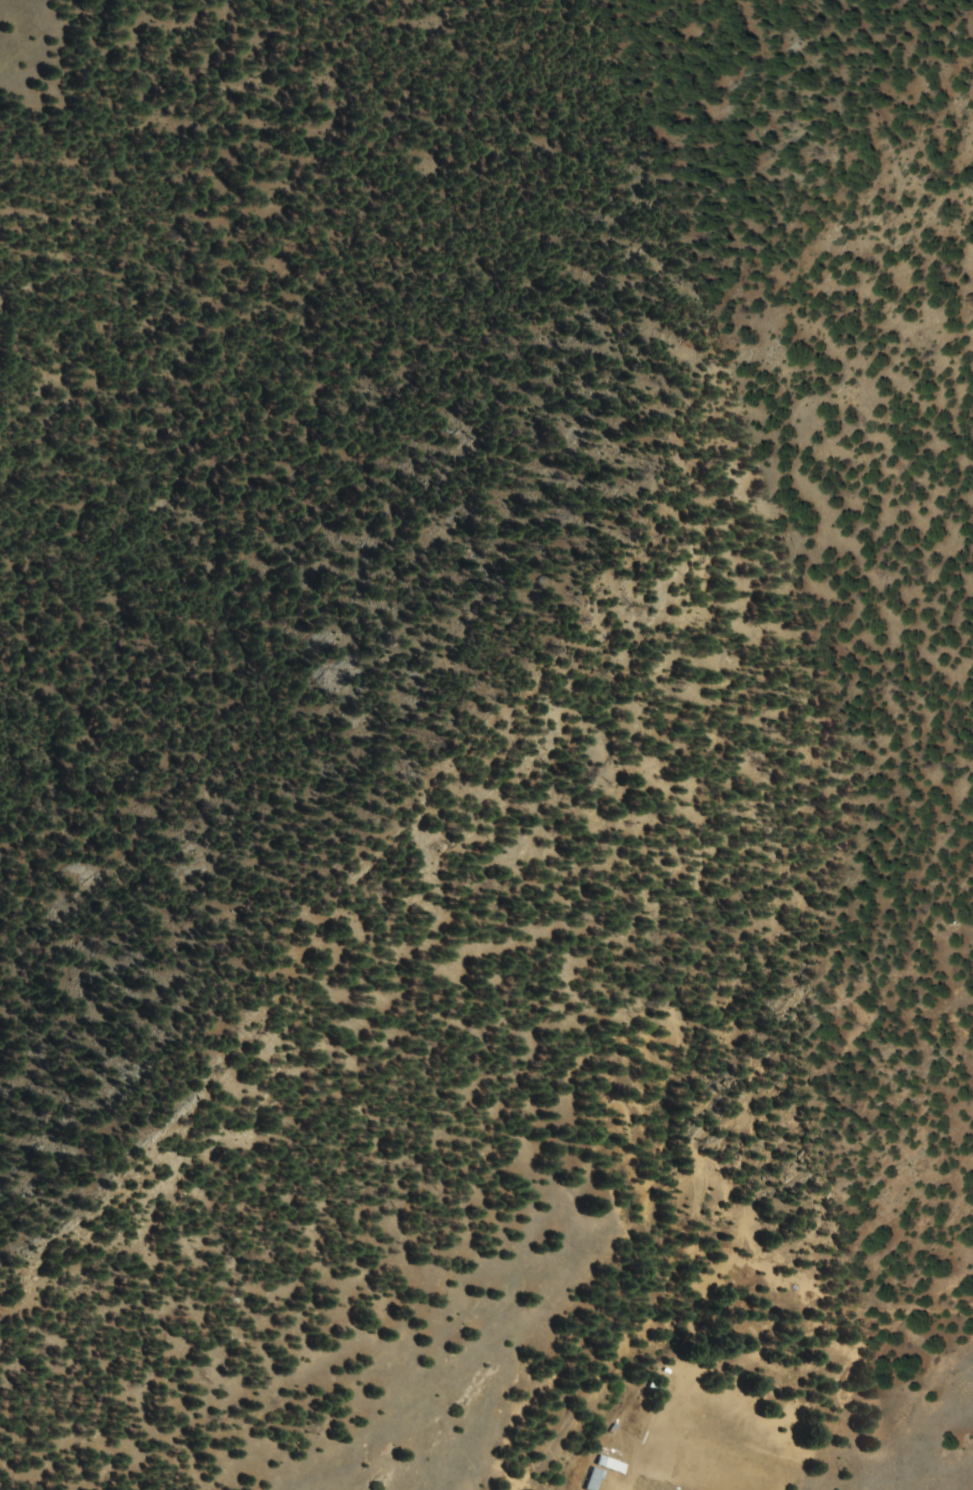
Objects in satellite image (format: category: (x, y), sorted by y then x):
building: (610, 1466)
building: (588, 1479)

